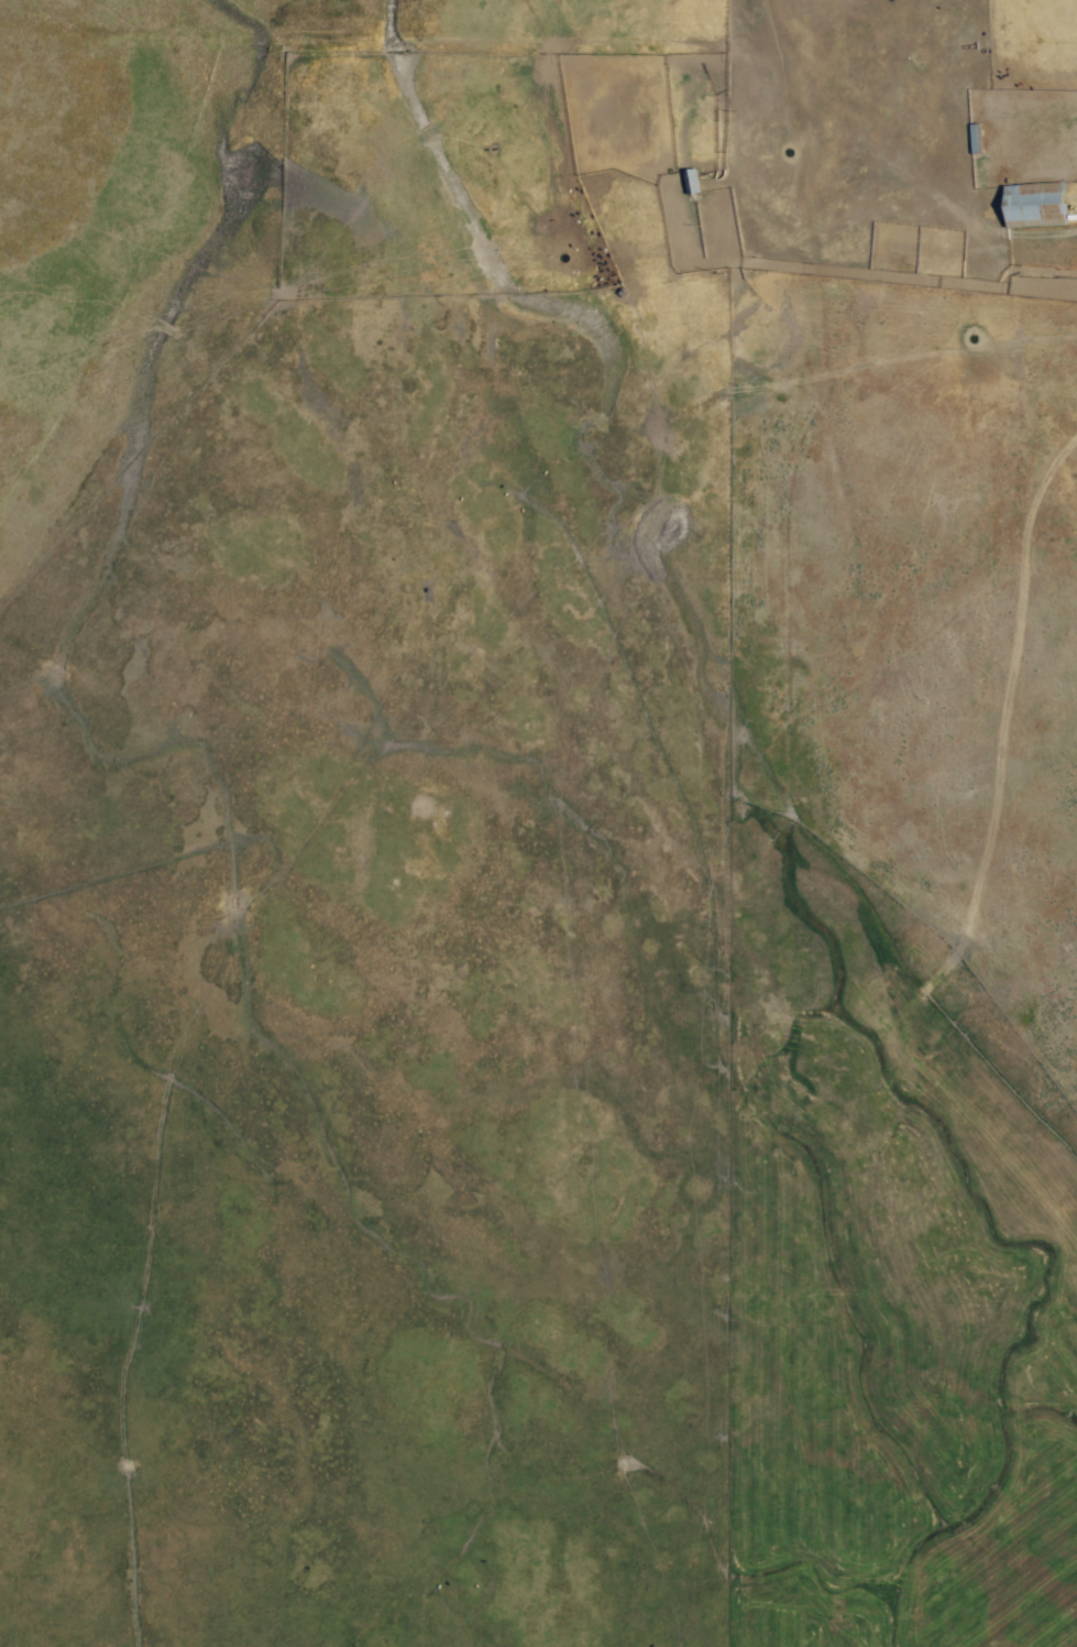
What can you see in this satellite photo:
building: (1030, 204)
crop: (538, 823)

